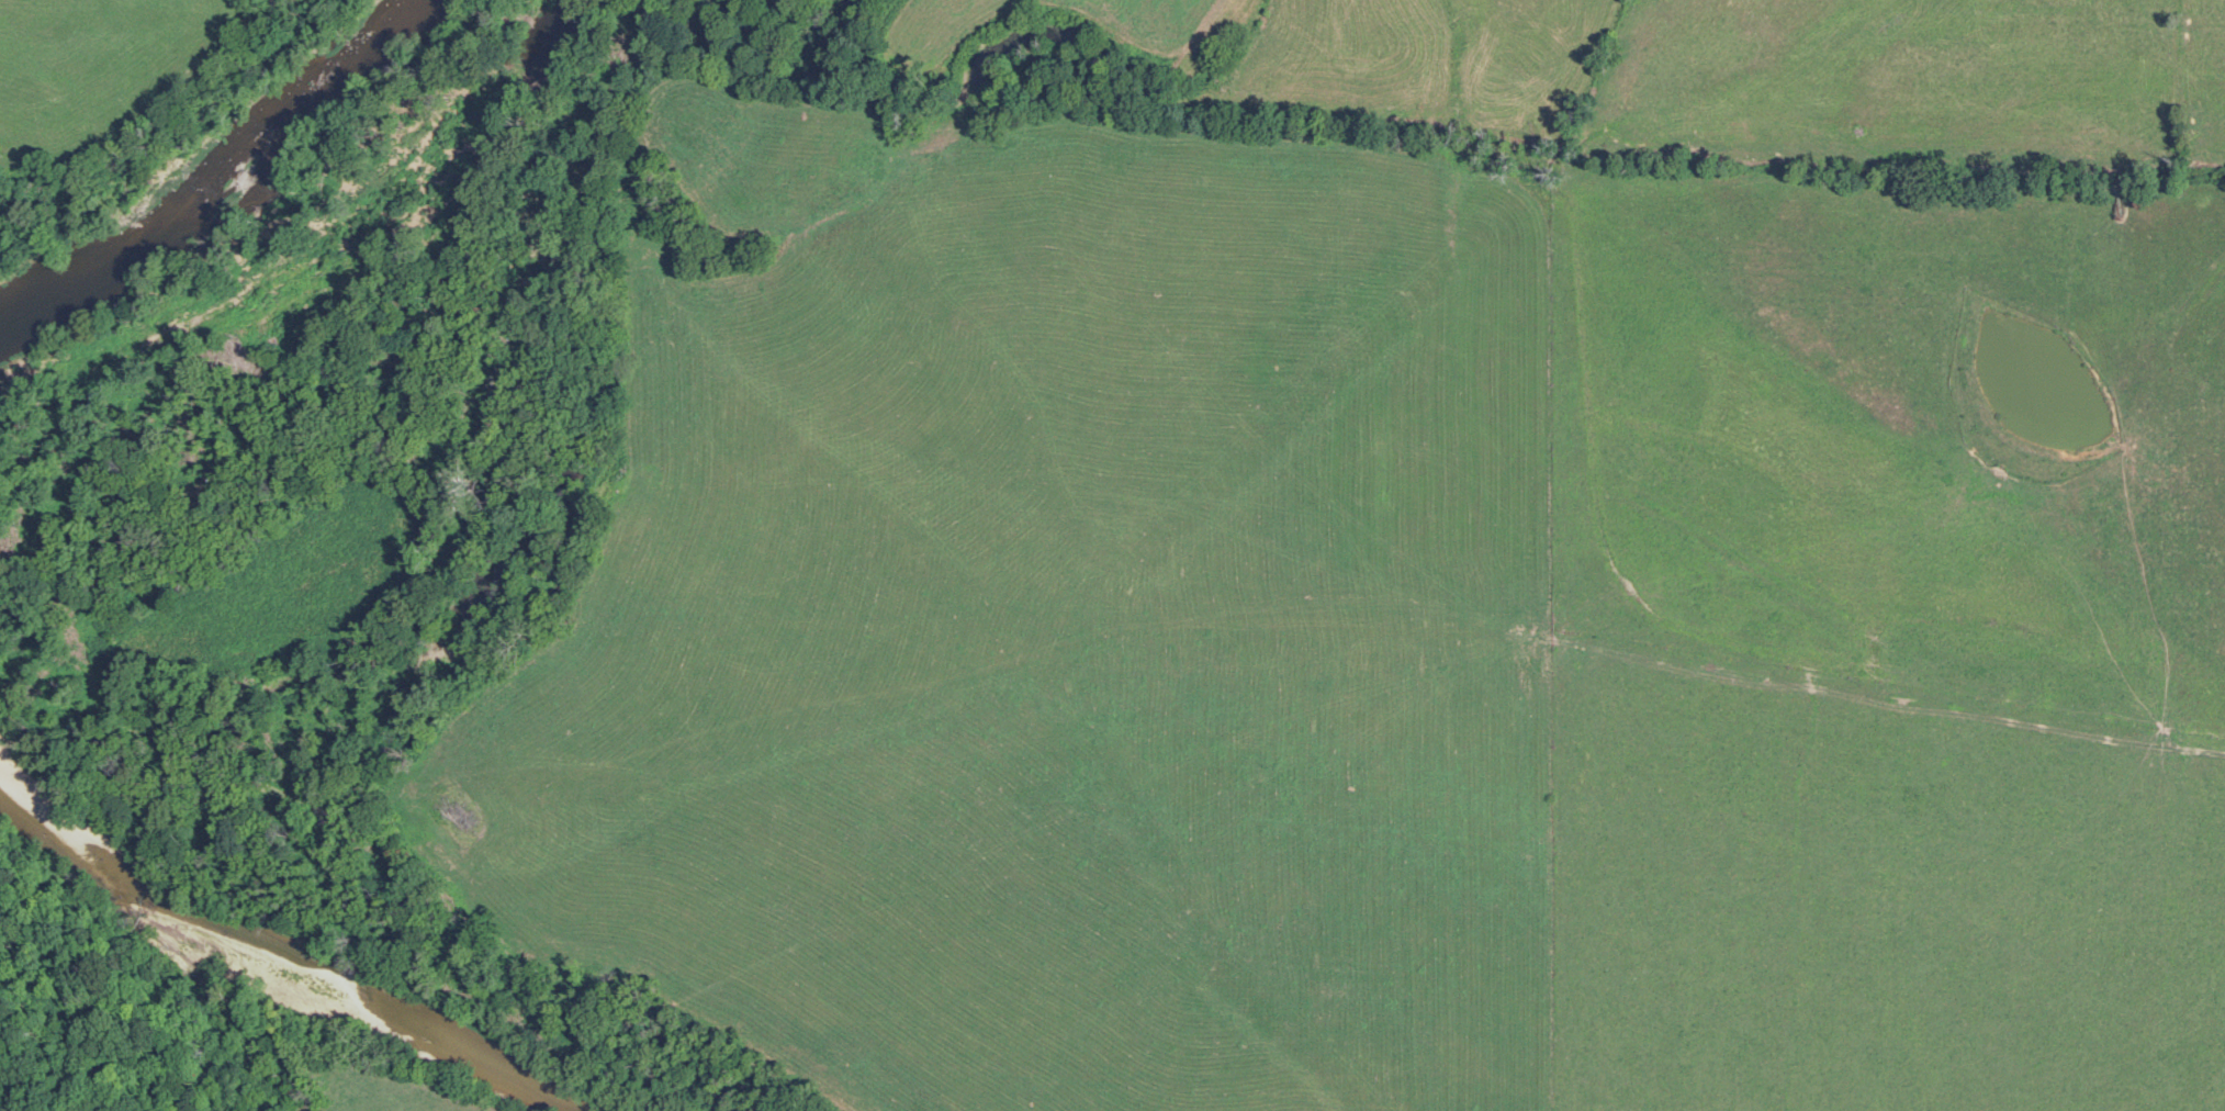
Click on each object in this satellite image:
river: (224, 182)
river: (252, 952)

